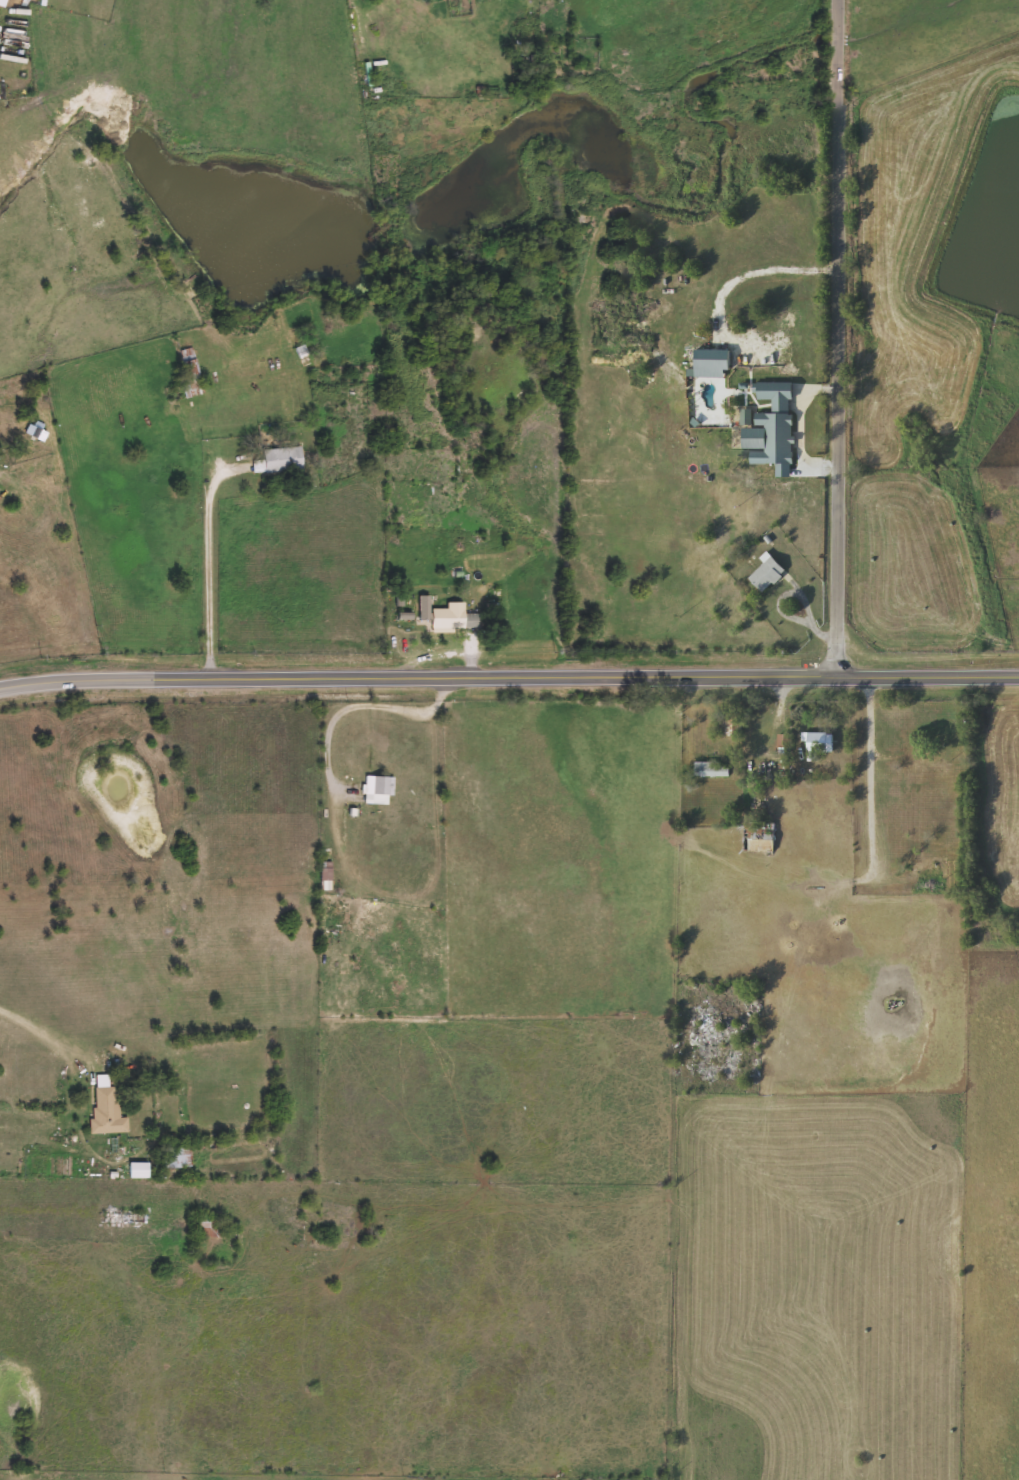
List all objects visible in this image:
road: (757, 269)
road: (840, 339)
building: (191, 372)
road: (802, 422)
building: (38, 432)
building: (280, 459)
building: (767, 572)
road: (210, 591)
building: (455, 617)
road: (509, 681)
road: (357, 707)
building: (728, 722)
building: (783, 740)
building: (820, 742)
building: (928, 763)
building: (711, 768)
road: (873, 777)
building: (383, 784)
building: (759, 834)
building: (925, 868)
building: (344, 905)
road: (40, 1031)
building: (108, 1110)
building: (177, 1156)
building: (125, 1217)
building: (208, 1227)

